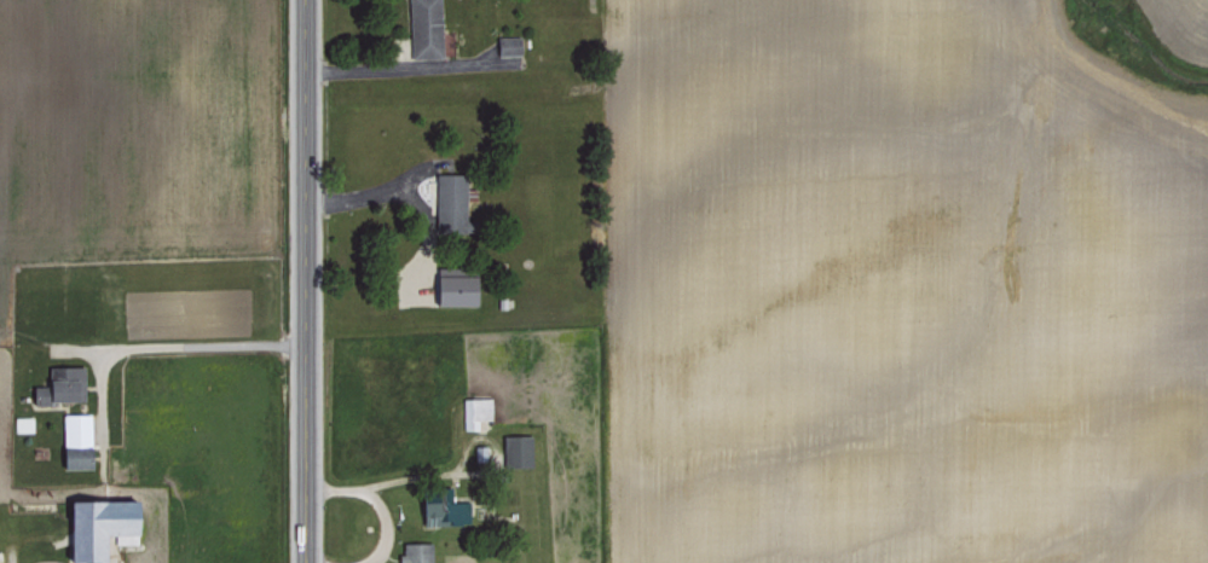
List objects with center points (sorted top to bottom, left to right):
building: (423, 28)
building: (507, 43)
building: (455, 202)
road: (302, 281)
building: (452, 286)
road: (138, 348)
building: (58, 382)
building: (74, 437)
building: (515, 448)
building: (440, 505)
building: (97, 523)
building: (414, 551)

